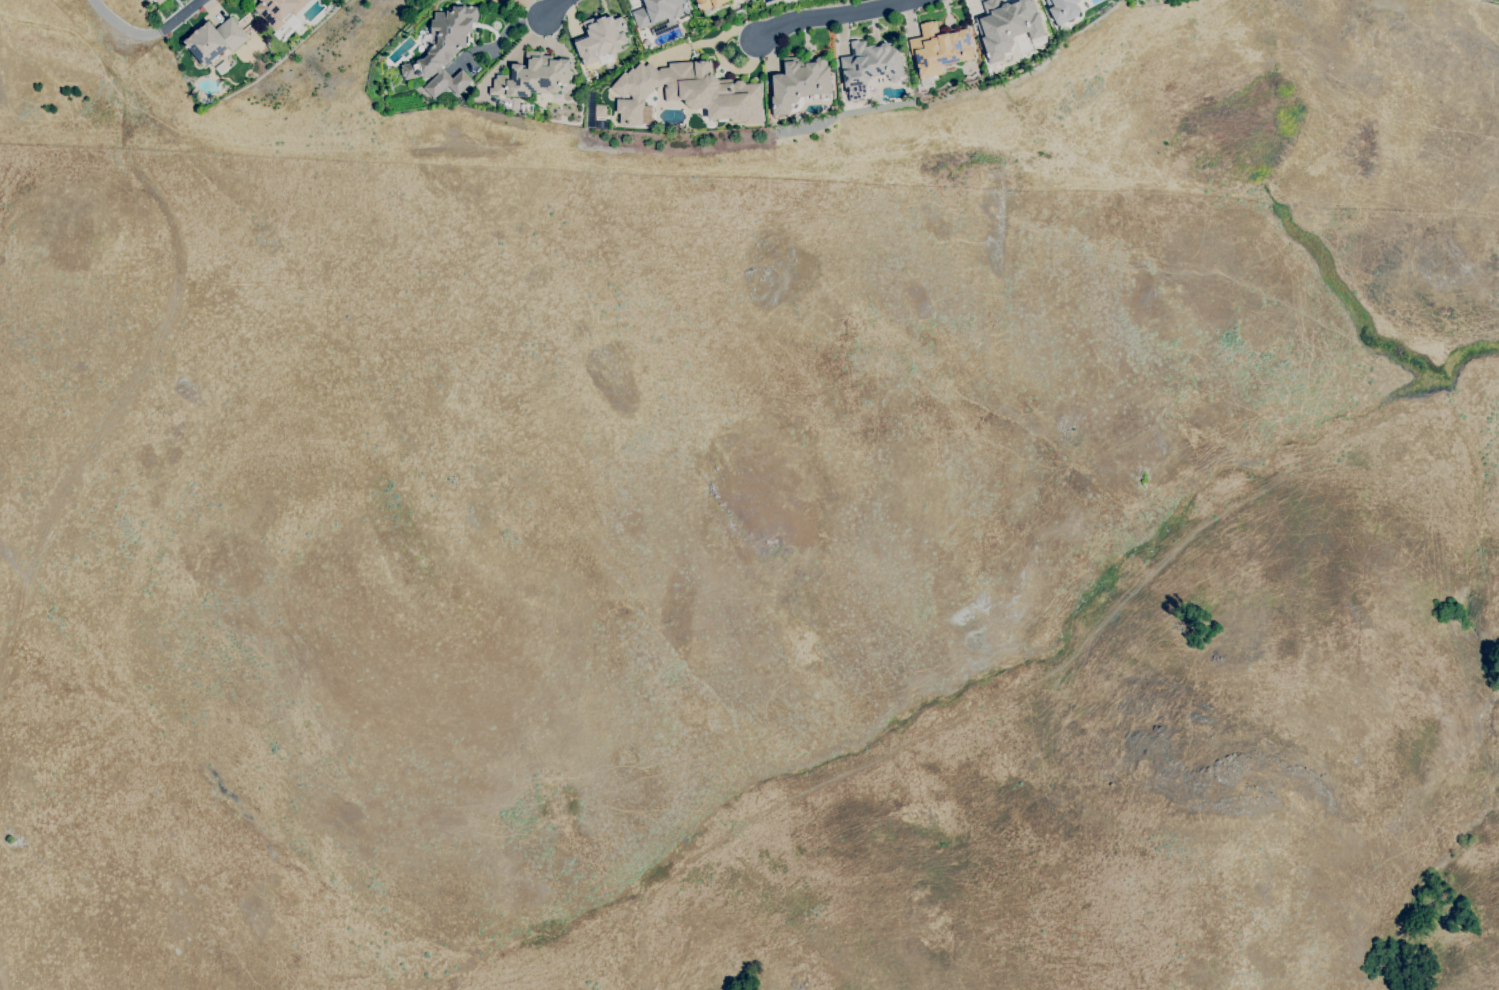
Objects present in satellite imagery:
building: (160, 1)
building: (709, 4)
road: (554, 8)
building: (279, 10)
building: (1064, 10)
road: (831, 13)
building: (660, 14)
building: (1008, 25)
road: (145, 34)
building: (602, 39)
building: (216, 40)
building: (939, 49)
building: (445, 50)
building: (869, 66)
building: (222, 67)
building: (533, 76)
building: (799, 82)
building: (688, 92)
building: (674, 104)
building: (527, 108)
building: (601, 109)

